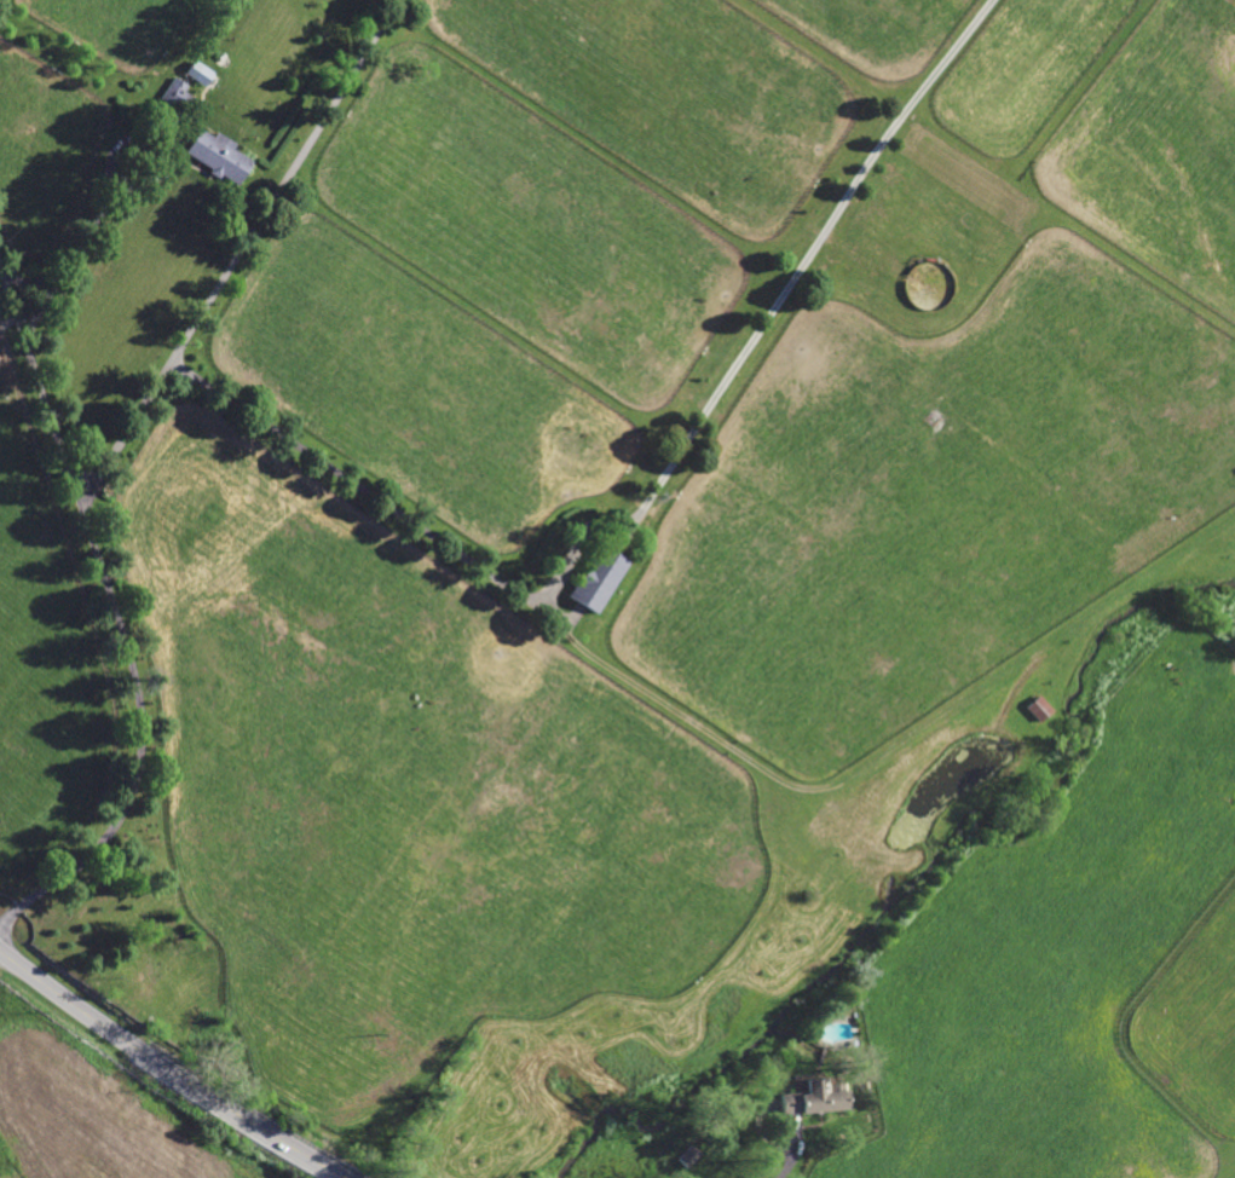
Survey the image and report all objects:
building: (214, 56)
building: (197, 71)
building: (177, 94)
building: (215, 152)
road: (273, 190)
road: (83, 235)
road: (40, 392)
road: (120, 447)
road: (644, 506)
building: (596, 578)
building: (1038, 706)
road: (140, 744)
road: (167, 1069)
building: (867, 1085)
building: (813, 1096)
building: (687, 1155)
road: (790, 1159)

